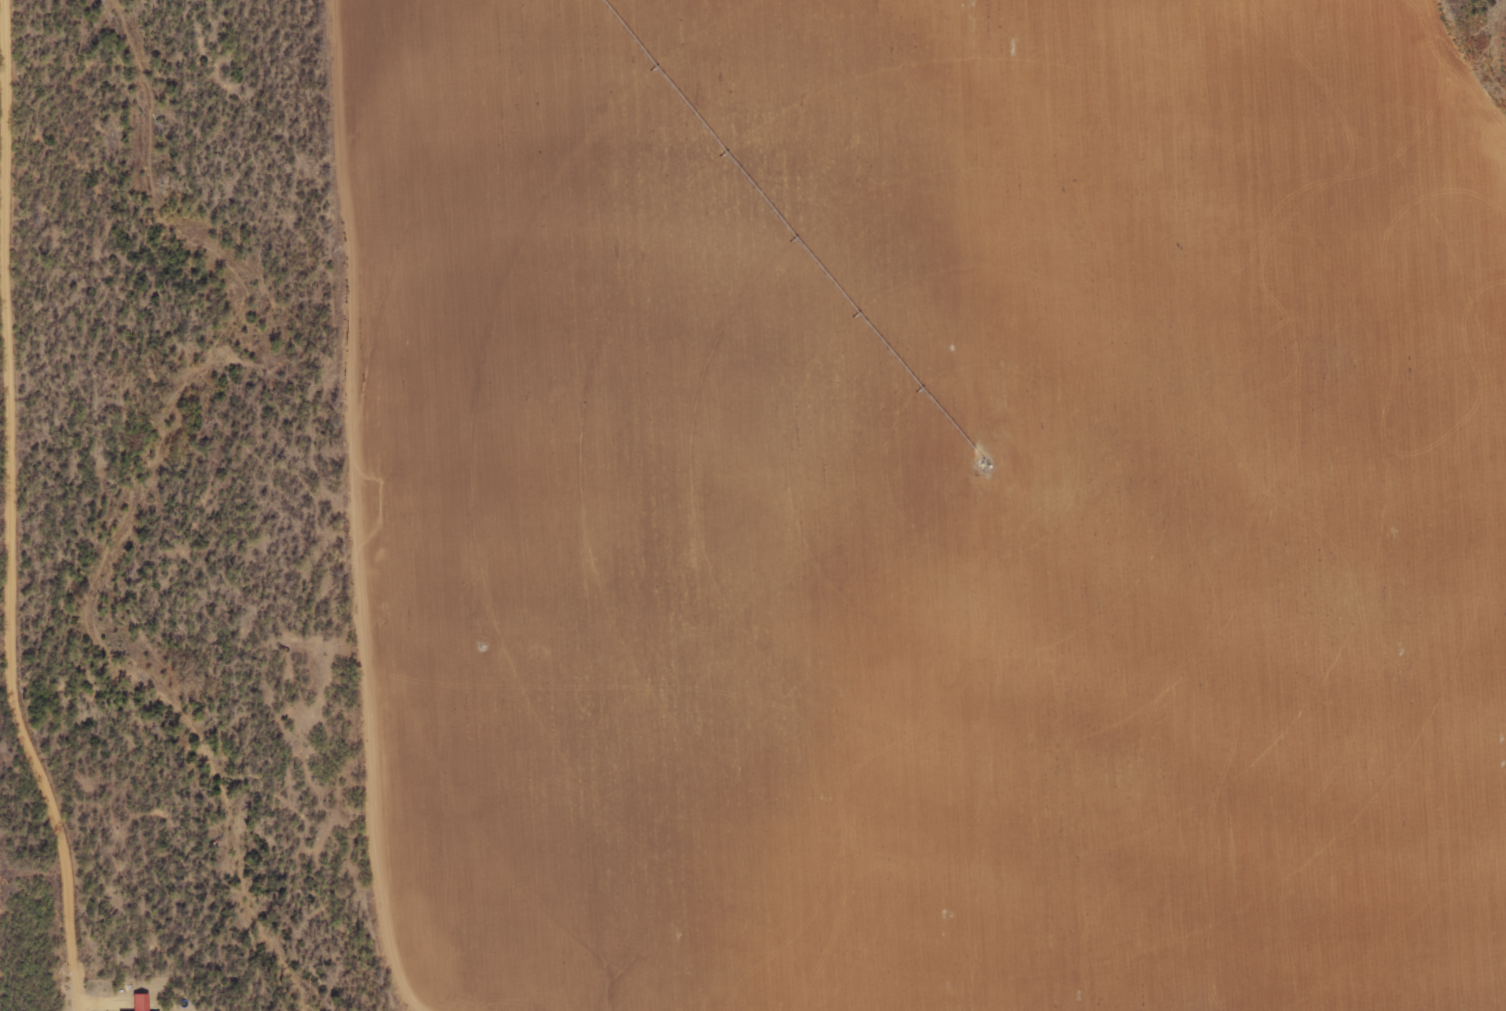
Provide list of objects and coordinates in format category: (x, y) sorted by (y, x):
building: (143, 1002)

